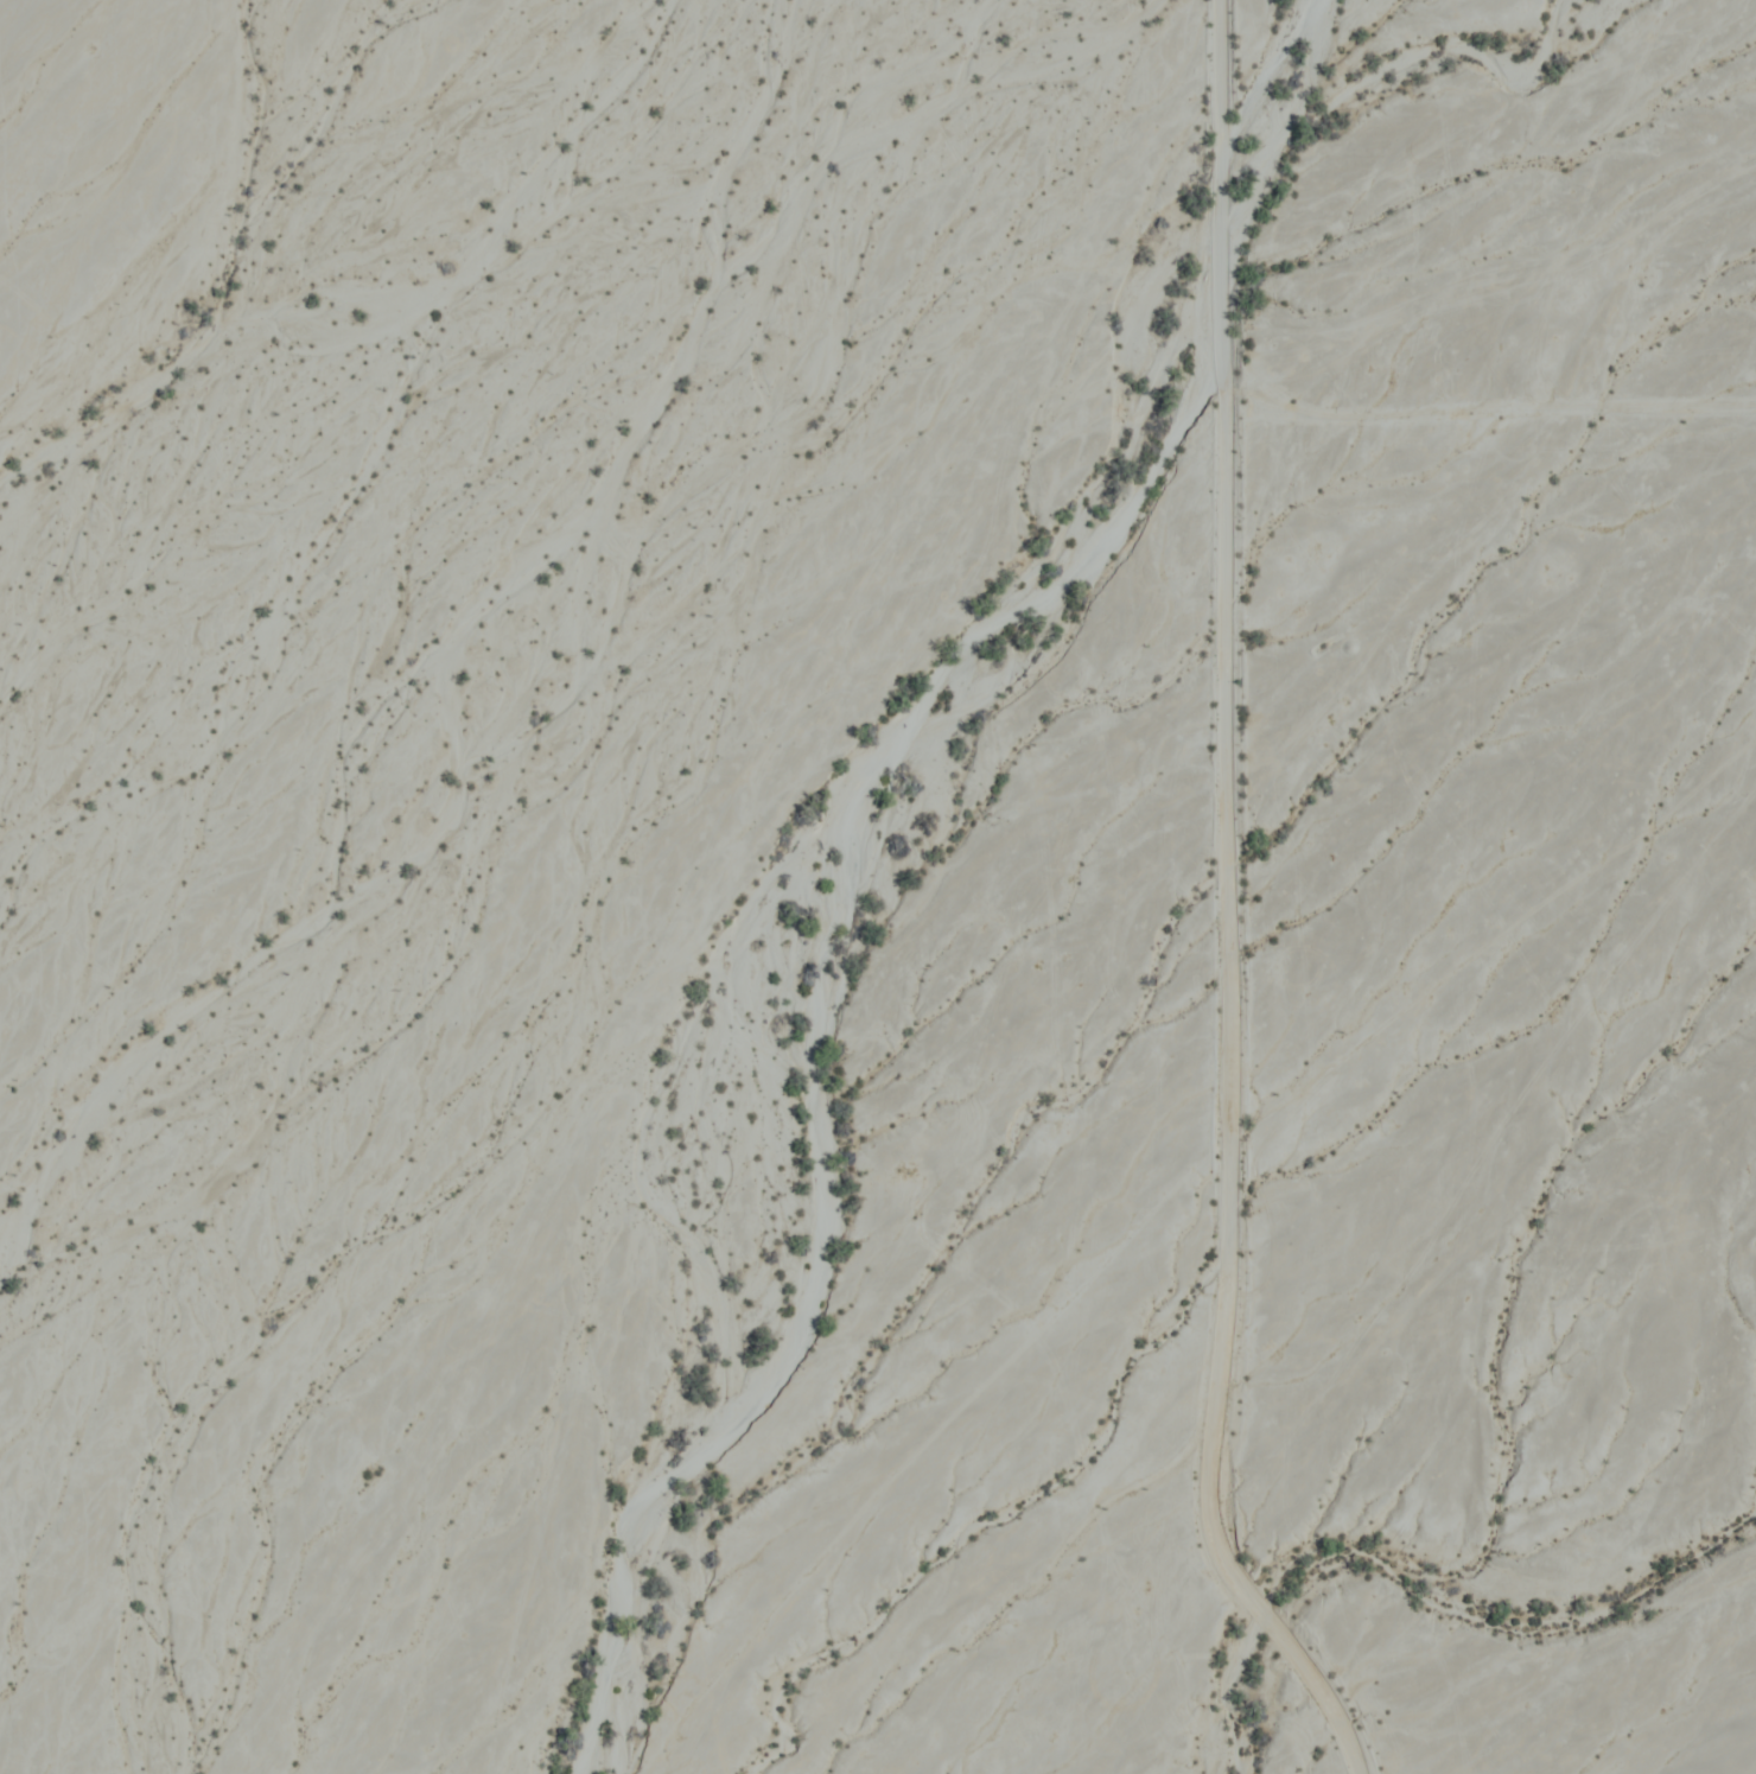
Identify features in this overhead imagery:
road: (1261, 909)

